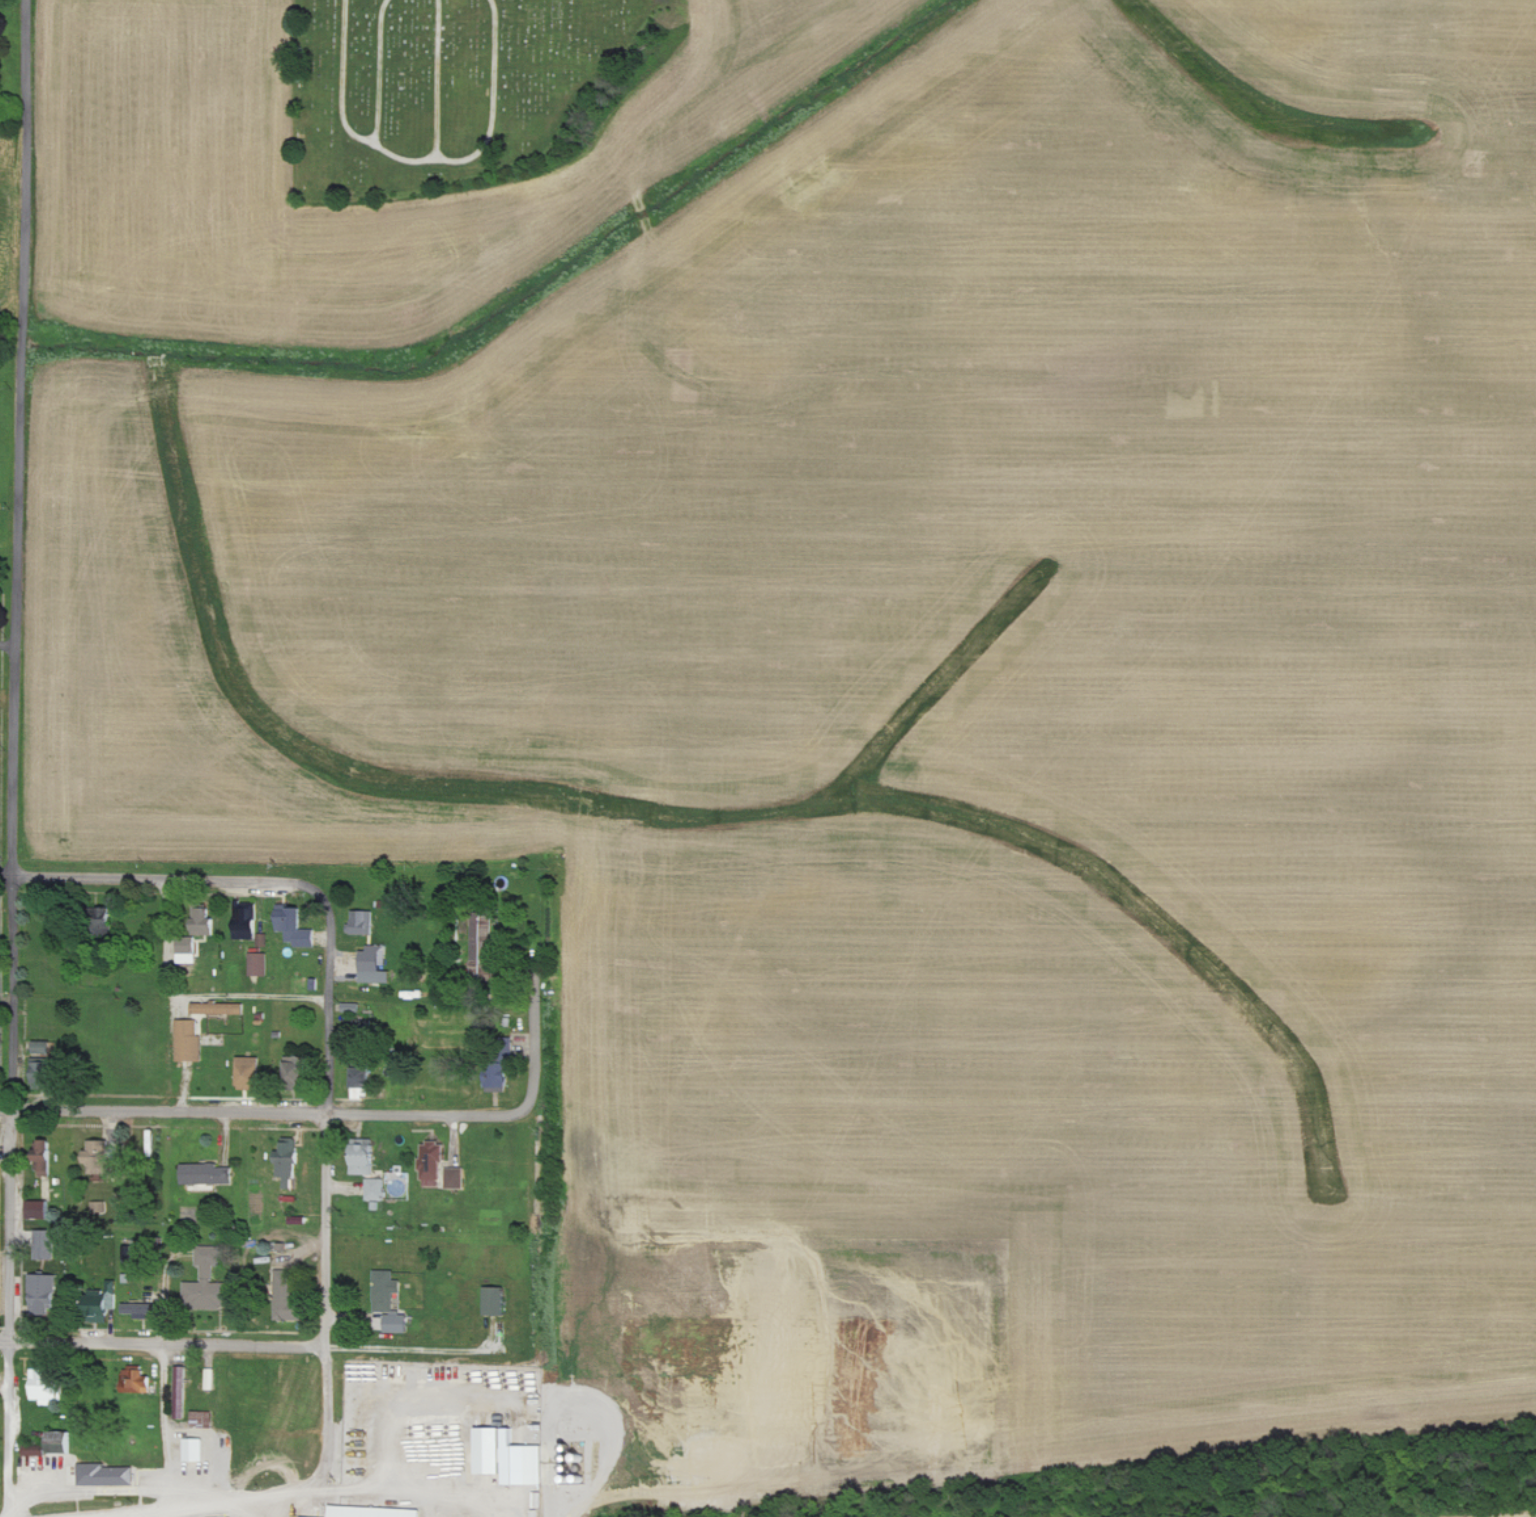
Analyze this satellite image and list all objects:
park: (459, 90)
road: (6, 419)
road: (2, 652)
road: (161, 882)
building: (362, 922)
building: (247, 924)
building: (296, 926)
building: (196, 936)
building: (483, 946)
building: (373, 959)
building: (259, 964)
road: (194, 994)
building: (352, 1007)
building: (219, 1008)
building: (189, 1041)
building: (43, 1047)
road: (532, 1062)
building: (296, 1066)
building: (250, 1072)
building: (46, 1073)
building: (366, 1078)
building: (500, 1080)
road: (261, 1114)
building: (46, 1159)
building: (100, 1160)
building: (366, 1160)
building: (433, 1161)
building: (288, 1162)
building: (208, 1174)
building: (454, 1178)
building: (375, 1189)
road: (325, 1198)
road: (11, 1205)
building: (100, 1206)
building: (41, 1210)
building: (45, 1244)
building: (207, 1282)
building: (386, 1290)
building: (43, 1293)
building: (289, 1296)
building: (495, 1301)
building: (103, 1308)
building: (138, 1310)
building: (397, 1323)
road: (248, 1346)
building: (210, 1379)
building: (136, 1380)
building: (46, 1388)
building: (181, 1392)
building: (202, 1418)
road: (168, 1430)
road: (613, 1437)
building: (61, 1442)
building: (35, 1450)
building: (196, 1450)
building: (511, 1457)
building: (107, 1475)
road: (405, 1487)
road: (216, 1505)
road: (264, 1507)
building: (376, 1512)

